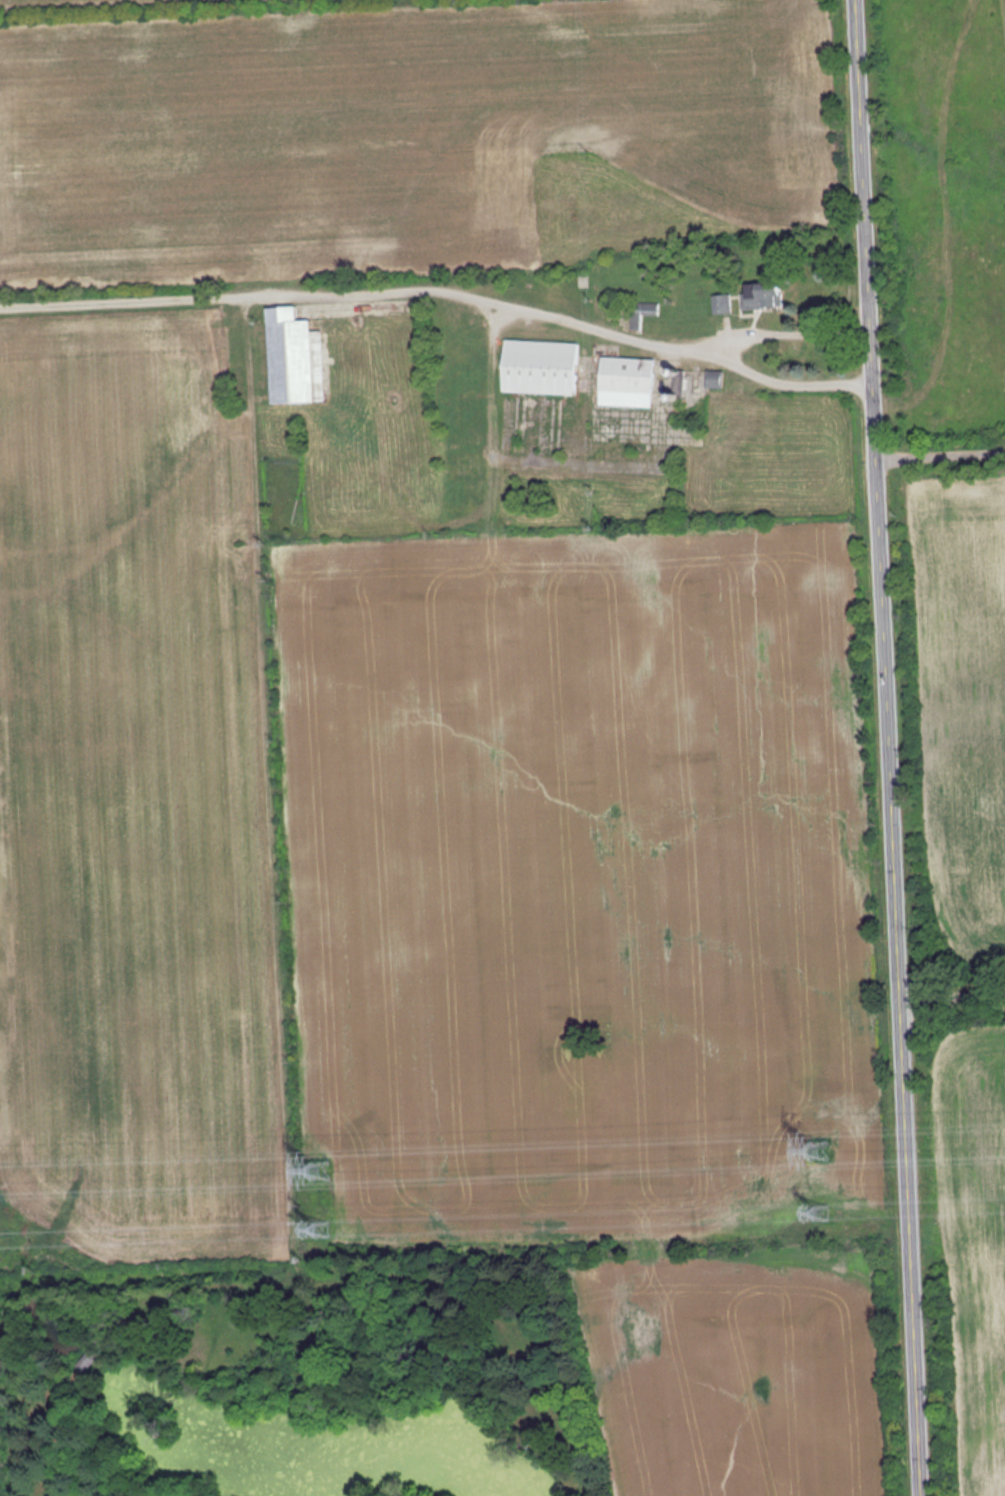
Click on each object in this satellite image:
building: (760, 294)
building: (721, 302)
building: (641, 312)
road: (576, 324)
road: (797, 334)
building: (293, 357)
building: (538, 367)
building: (625, 381)
road: (942, 456)
road: (891, 747)
road: (953, 996)
power tower: (819, 1148)
power tower: (319, 1169)
power tower: (820, 1211)
power tower: (321, 1228)

